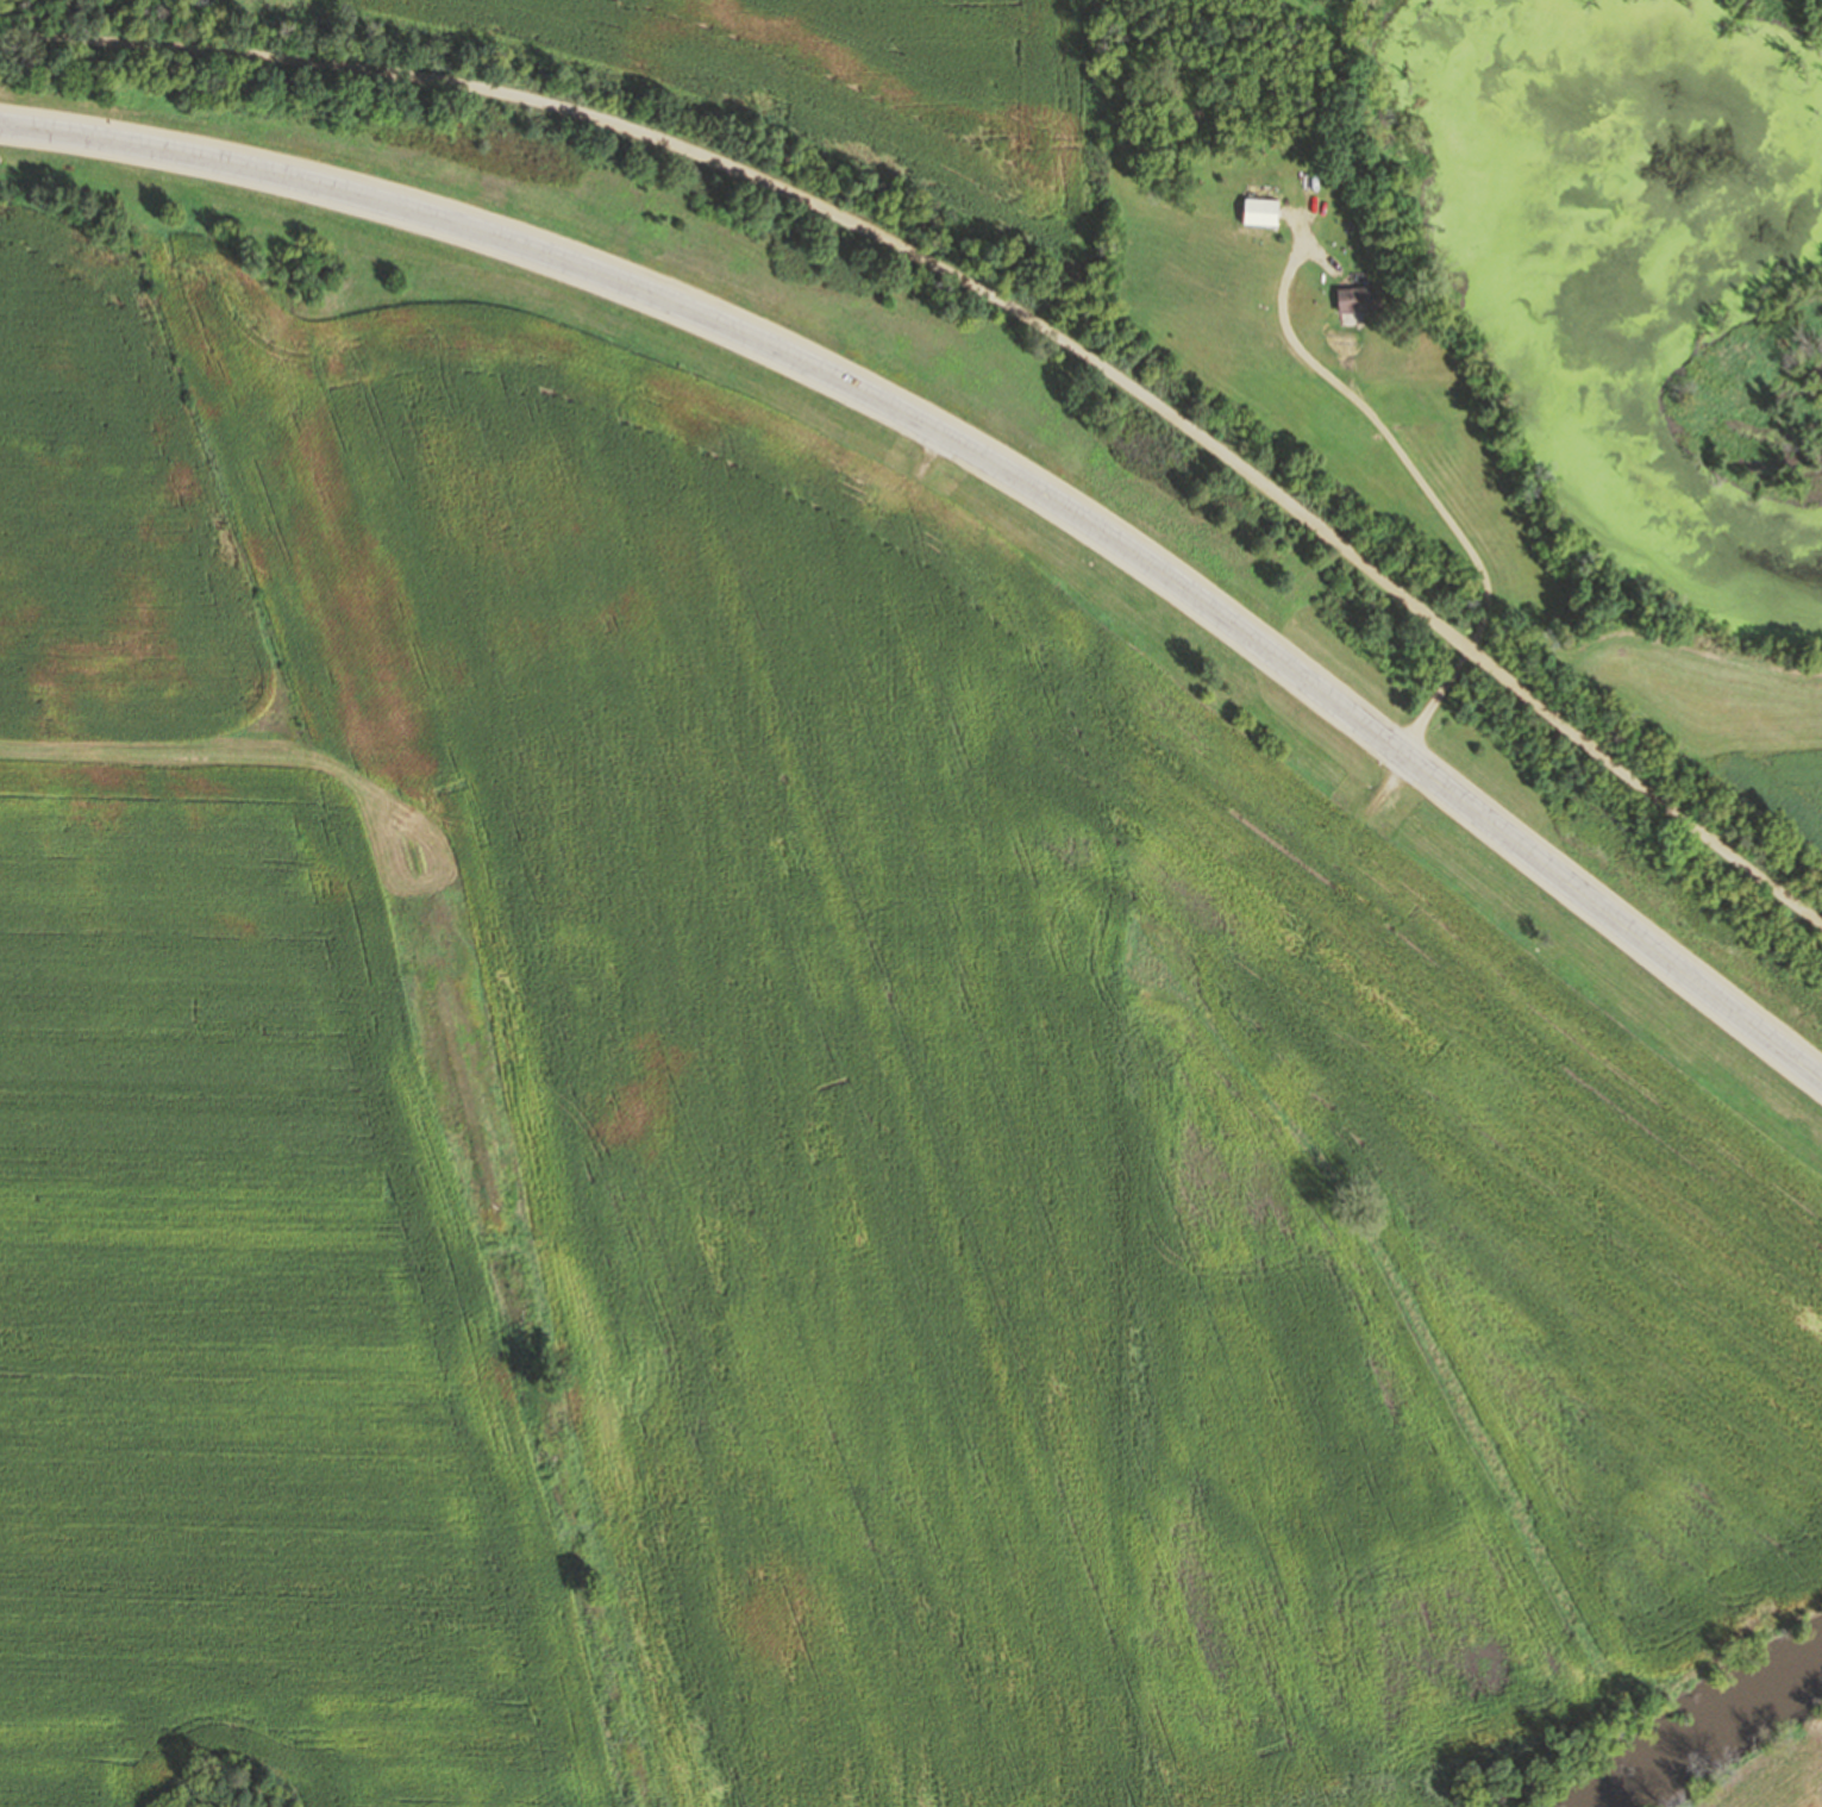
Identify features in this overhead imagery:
building: (1264, 213)
road: (1292, 289)
road: (993, 296)
building: (1367, 304)
road: (982, 456)
road: (1472, 546)
river: (1730, 1751)

